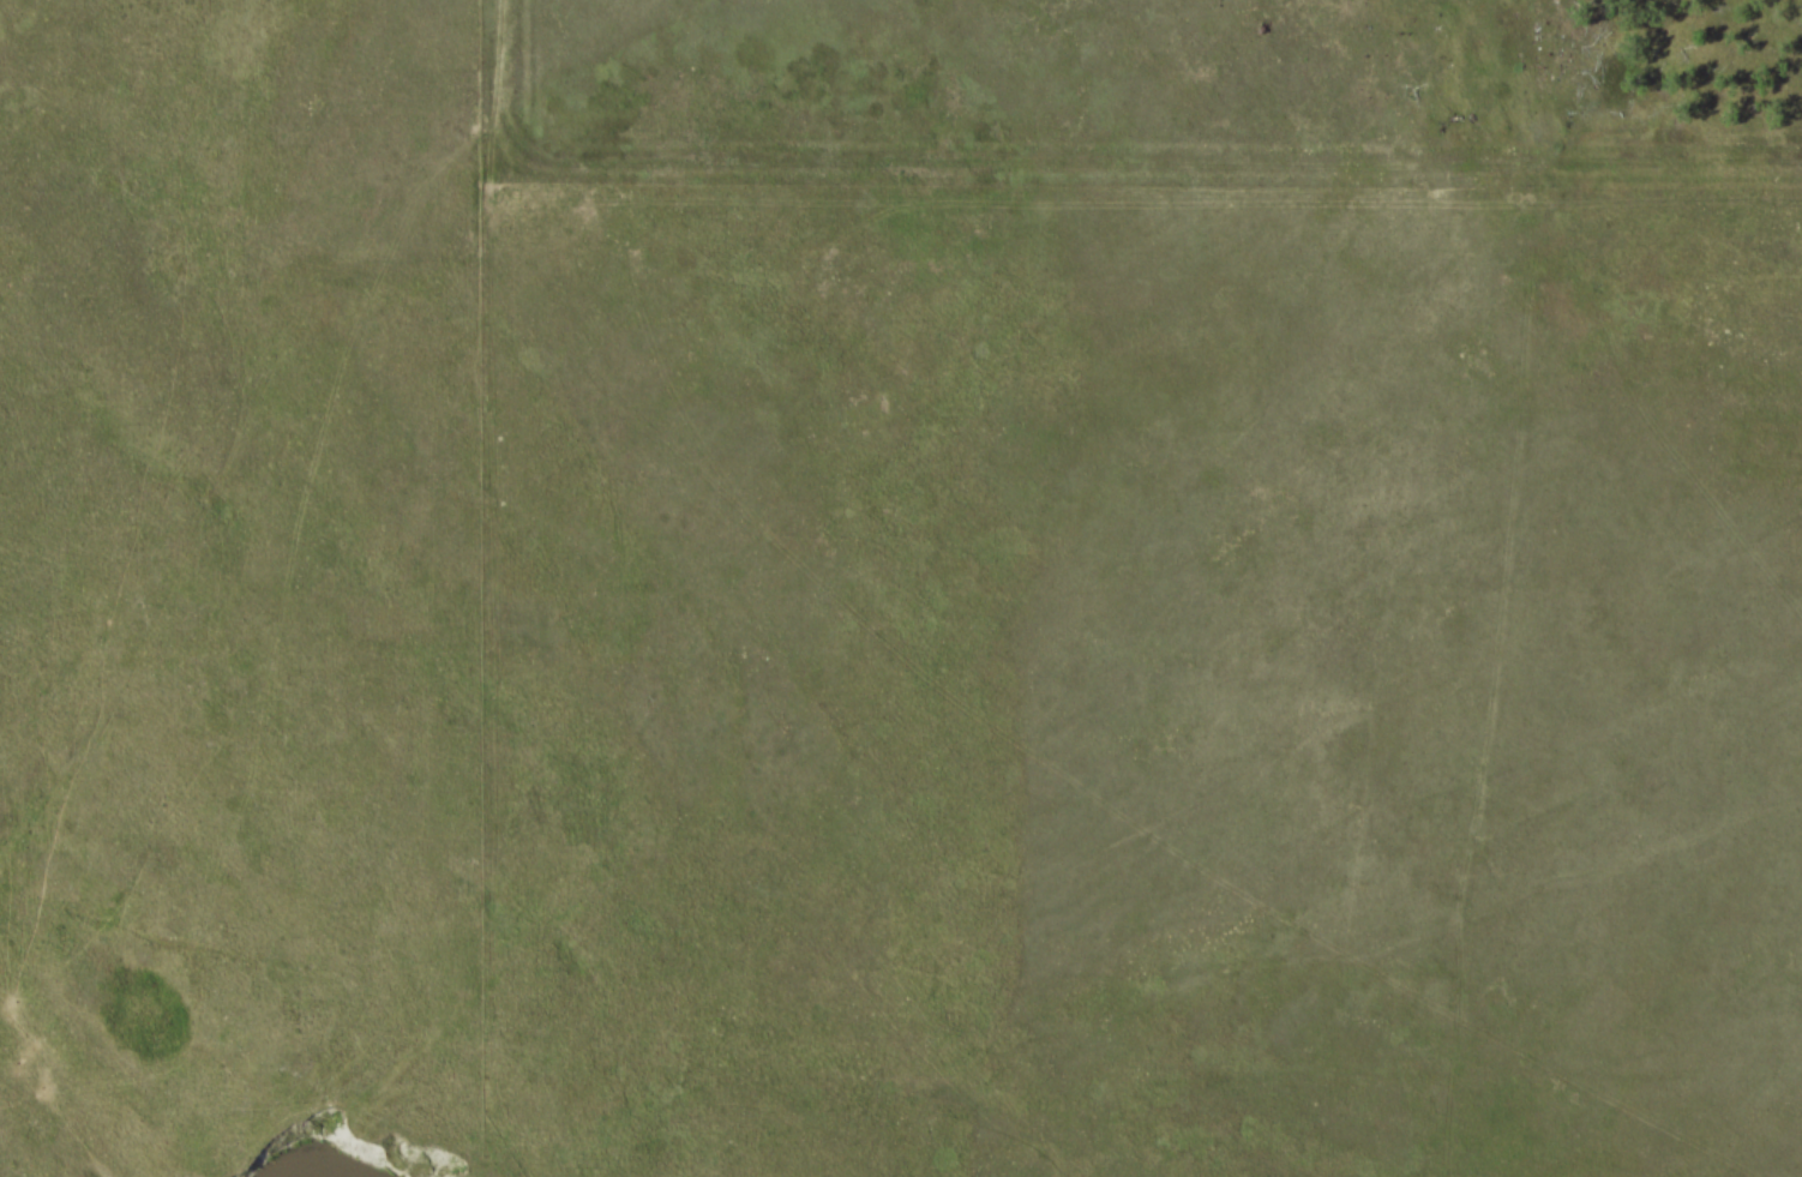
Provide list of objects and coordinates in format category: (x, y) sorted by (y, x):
road: (539, 58)

